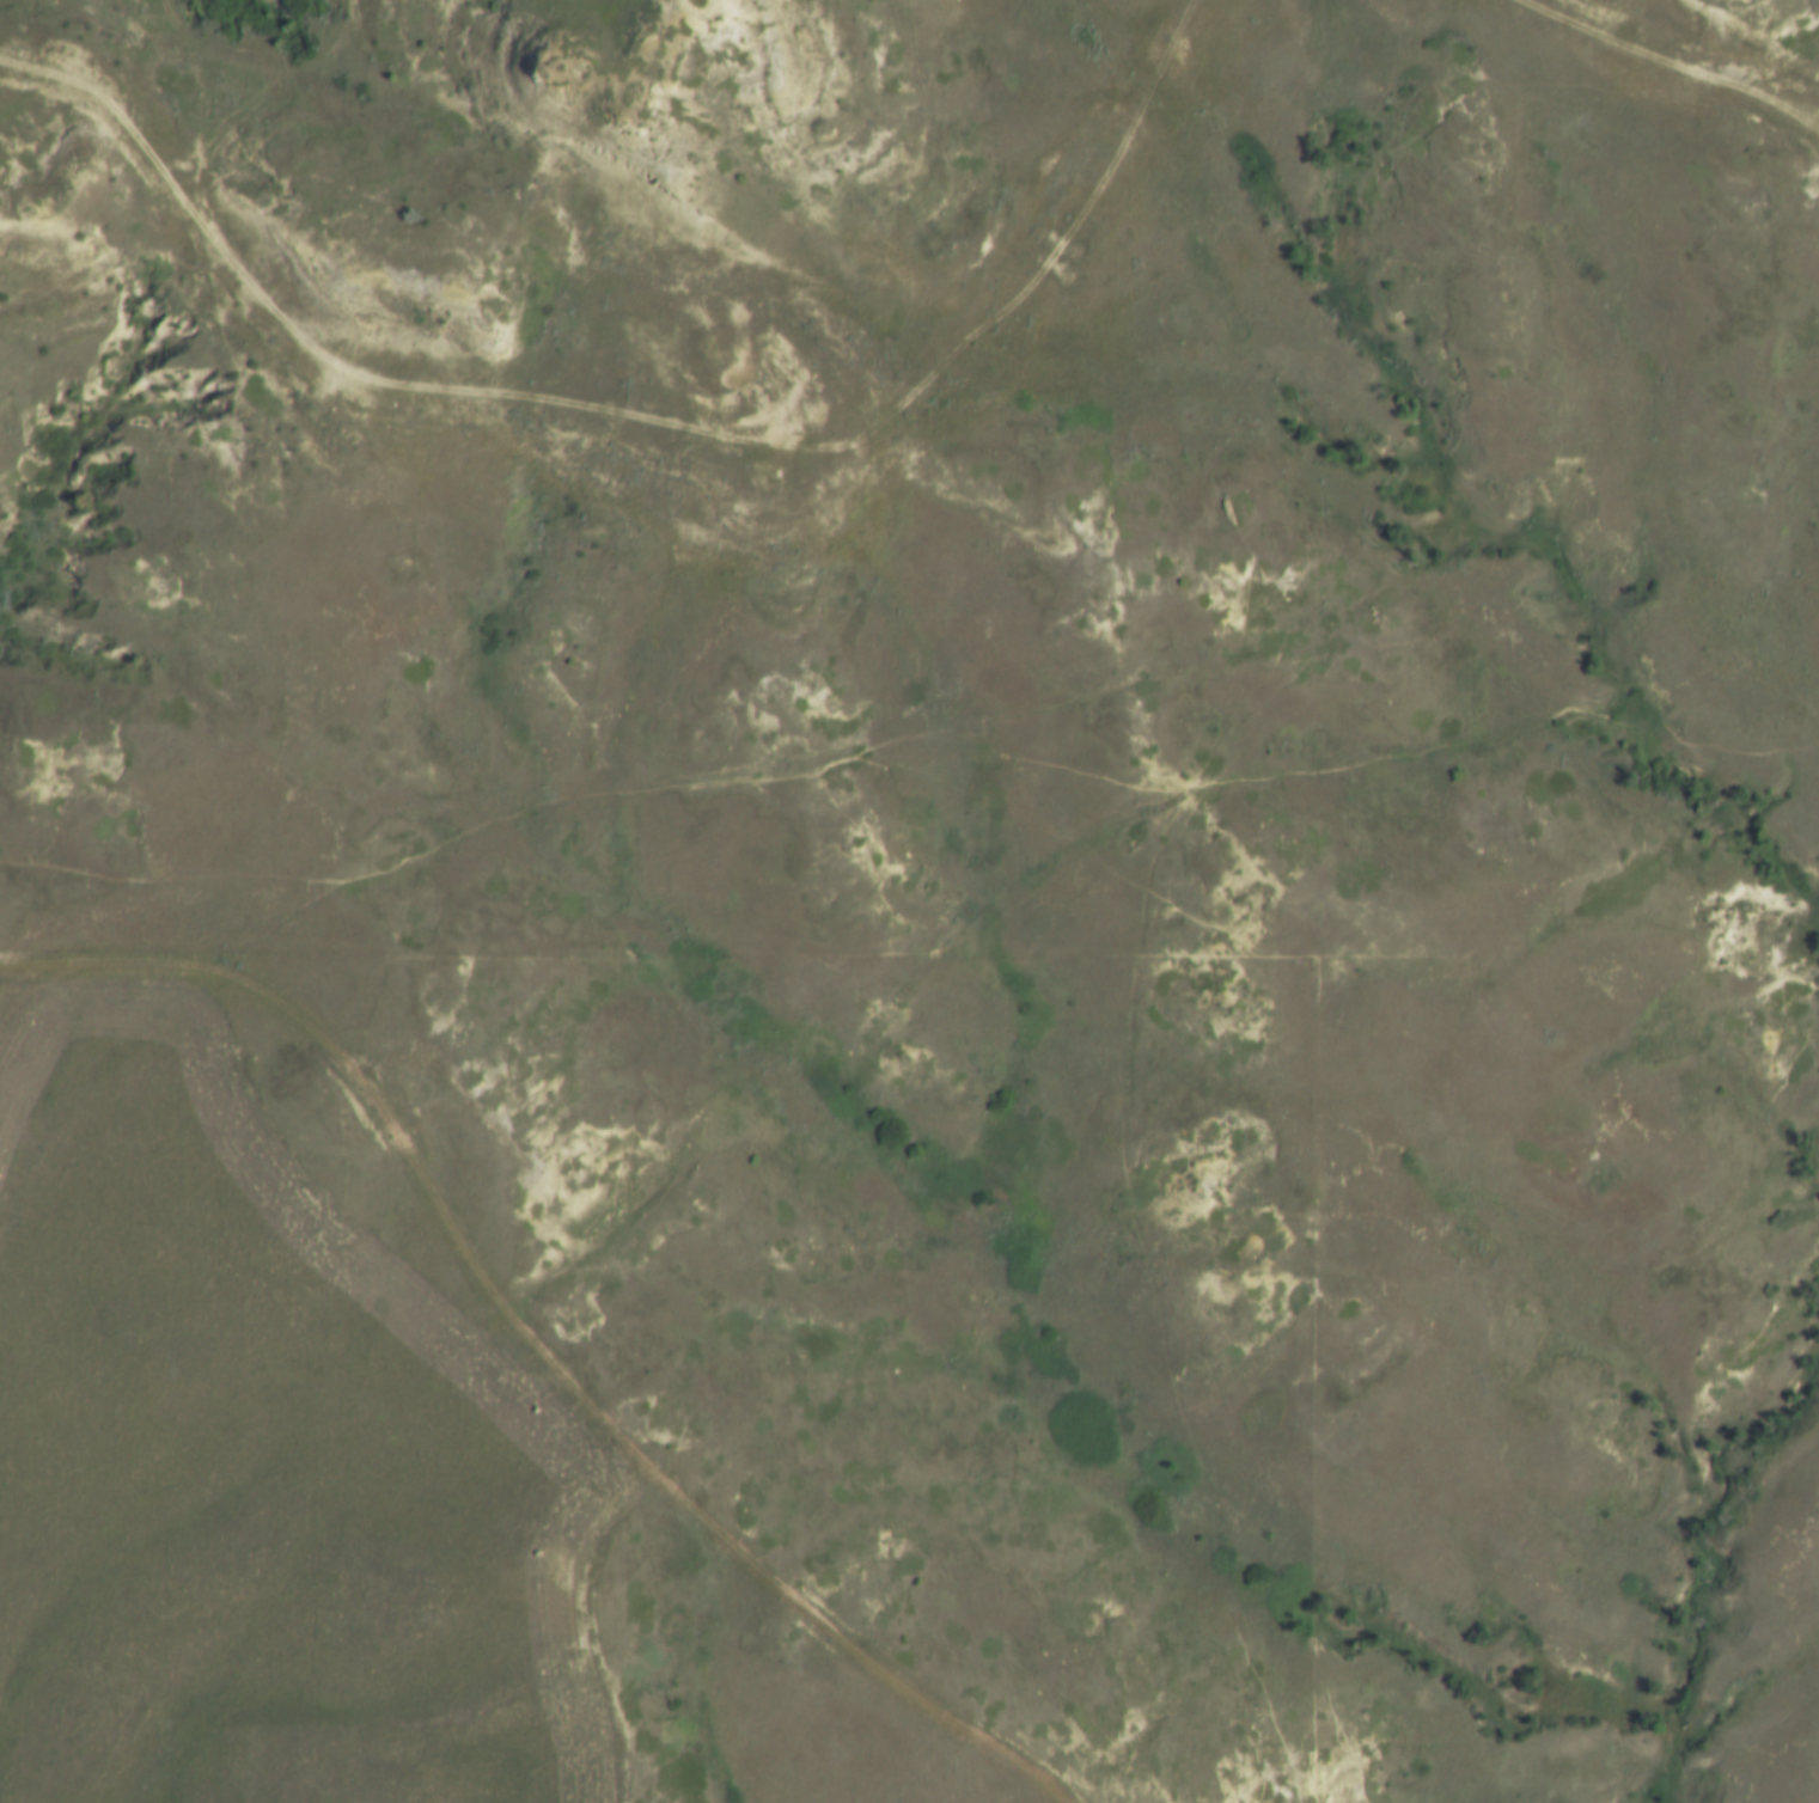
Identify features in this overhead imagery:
road: (1672, 63)
road: (641, 414)
road: (529, 1340)

